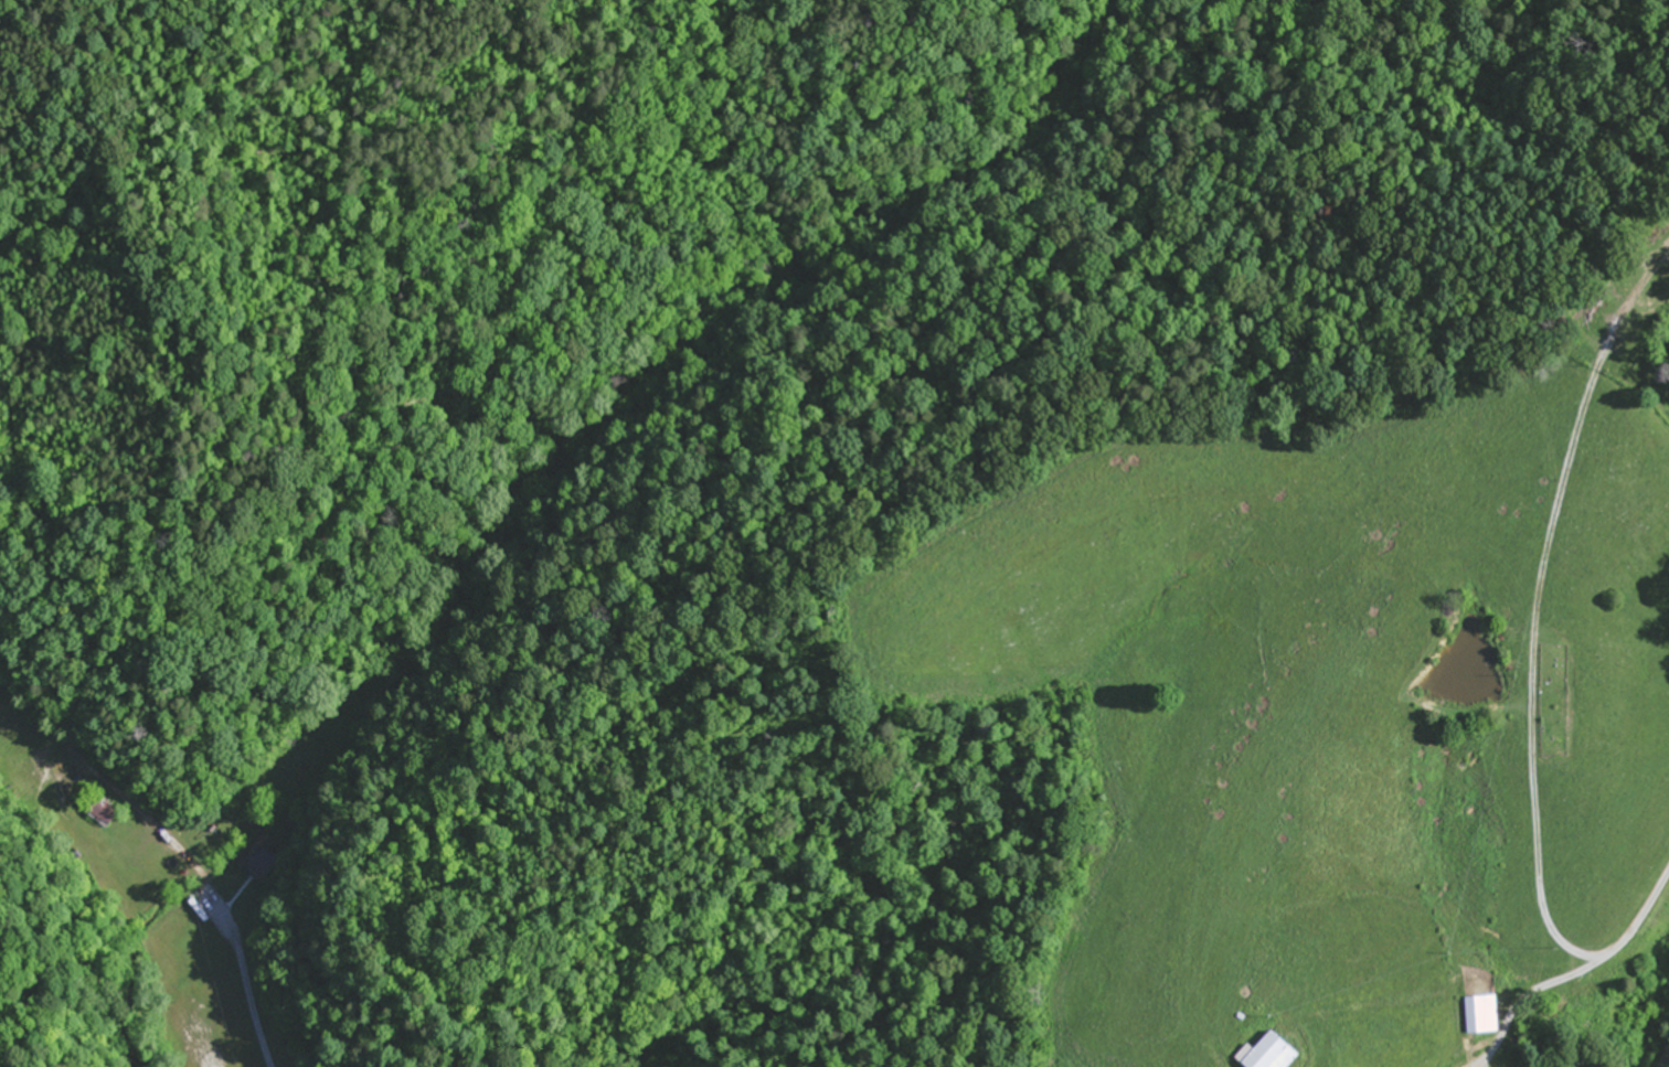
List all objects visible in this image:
road: (1575, 679)
building: (98, 811)
building: (248, 857)
road: (1583, 959)
building: (1480, 1014)
building: (1267, 1054)
road: (1666, 1058)

